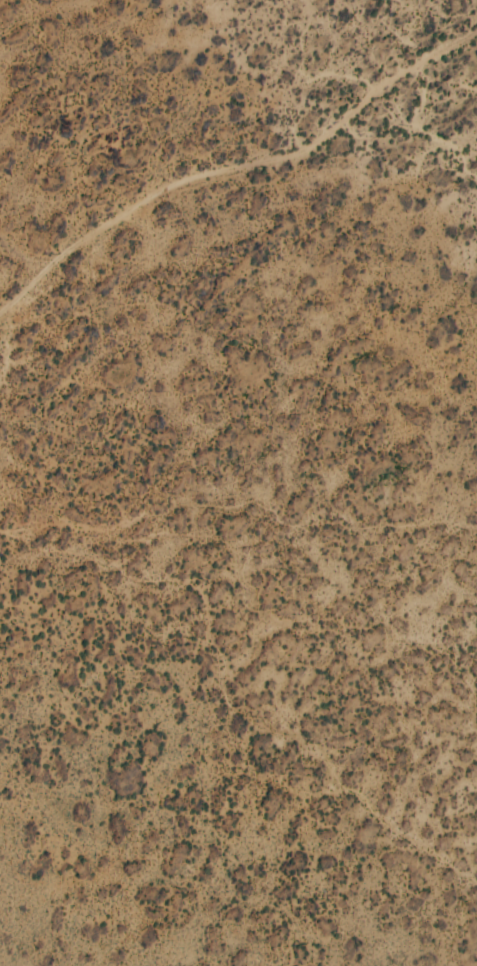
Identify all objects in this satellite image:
road: (222, 122)

